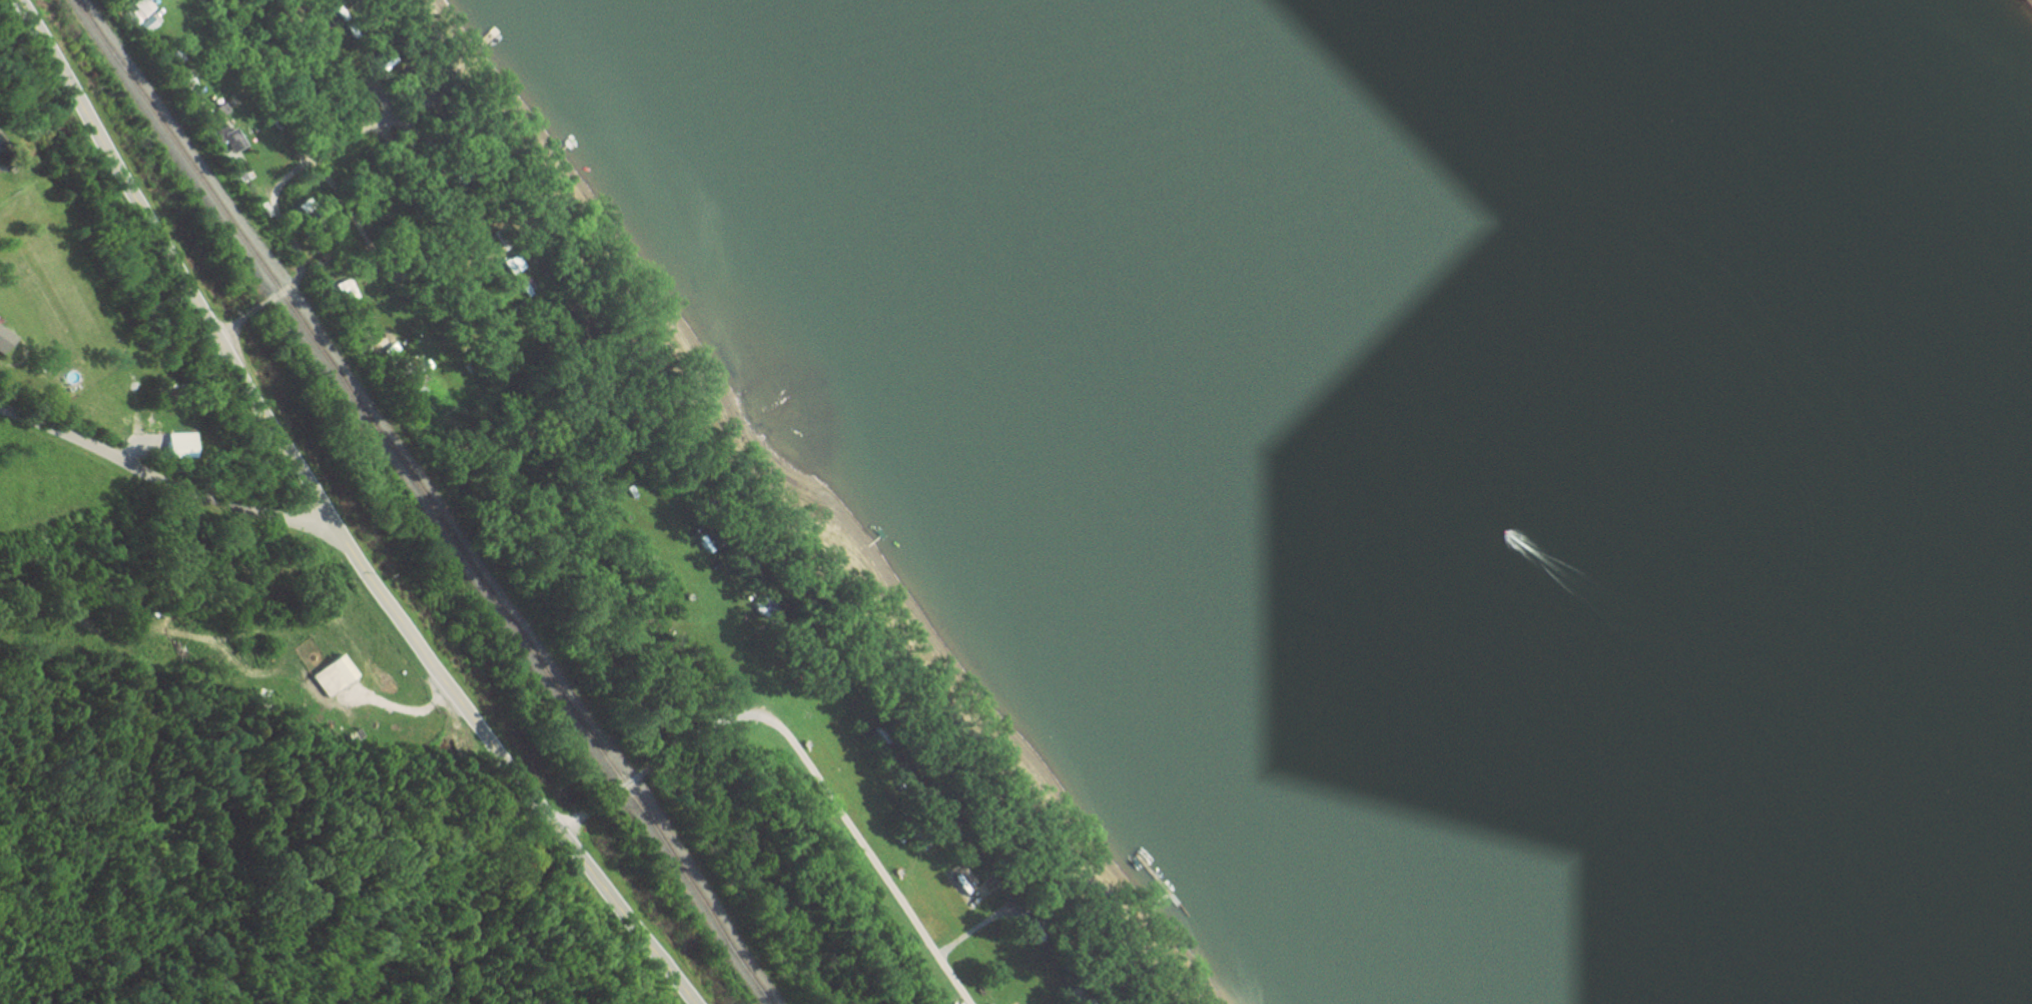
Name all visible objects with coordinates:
road: (256, 79)
road: (342, 84)
road: (323, 173)
road: (160, 482)
railway: (421, 500)
road: (326, 519)
river: (1421, 523)
road: (801, 756)

